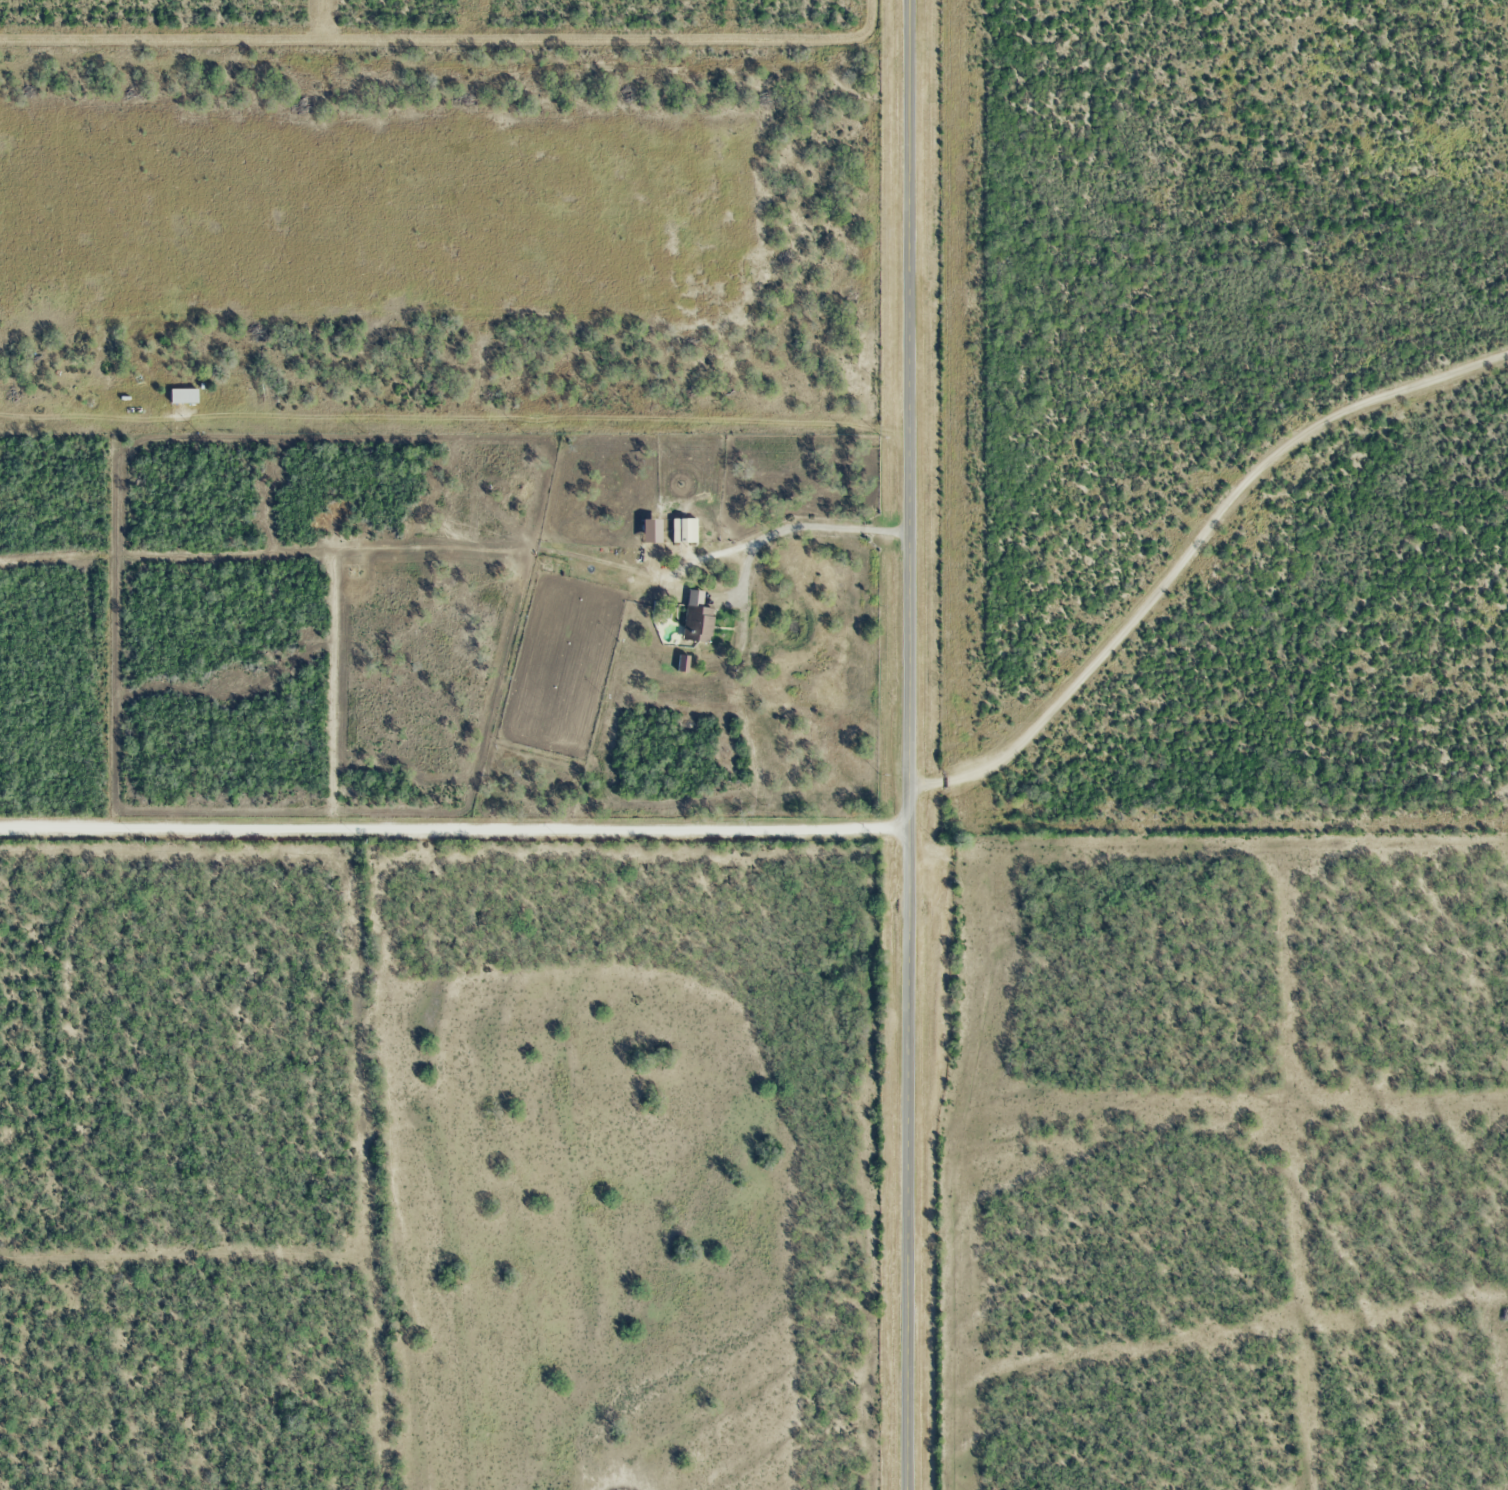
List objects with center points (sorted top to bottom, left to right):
building: (182, 395)
building: (683, 527)
road: (1190, 538)
building: (695, 617)
road: (910, 745)
road: (454, 826)

